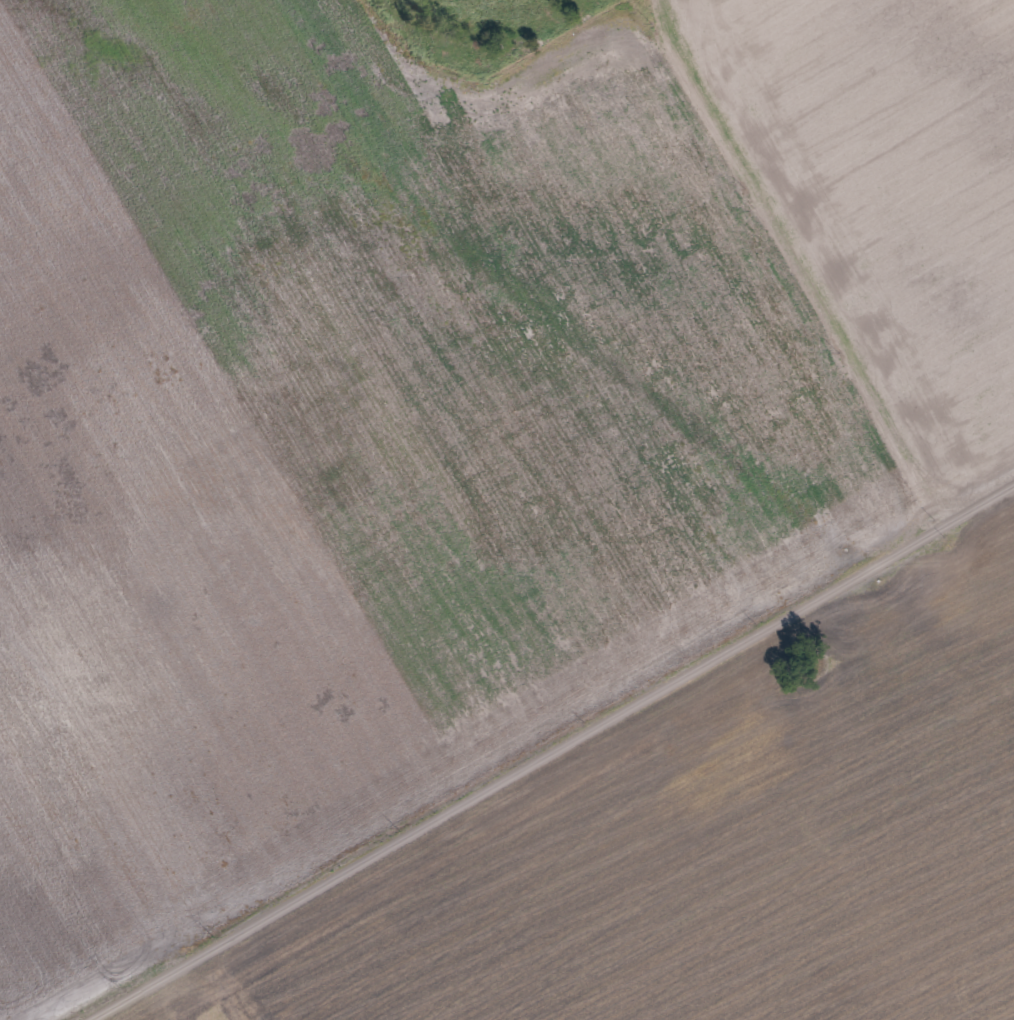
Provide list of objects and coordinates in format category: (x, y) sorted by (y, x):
road: (480, 69)
road: (795, 254)
road: (543, 744)
road: (220, 983)

